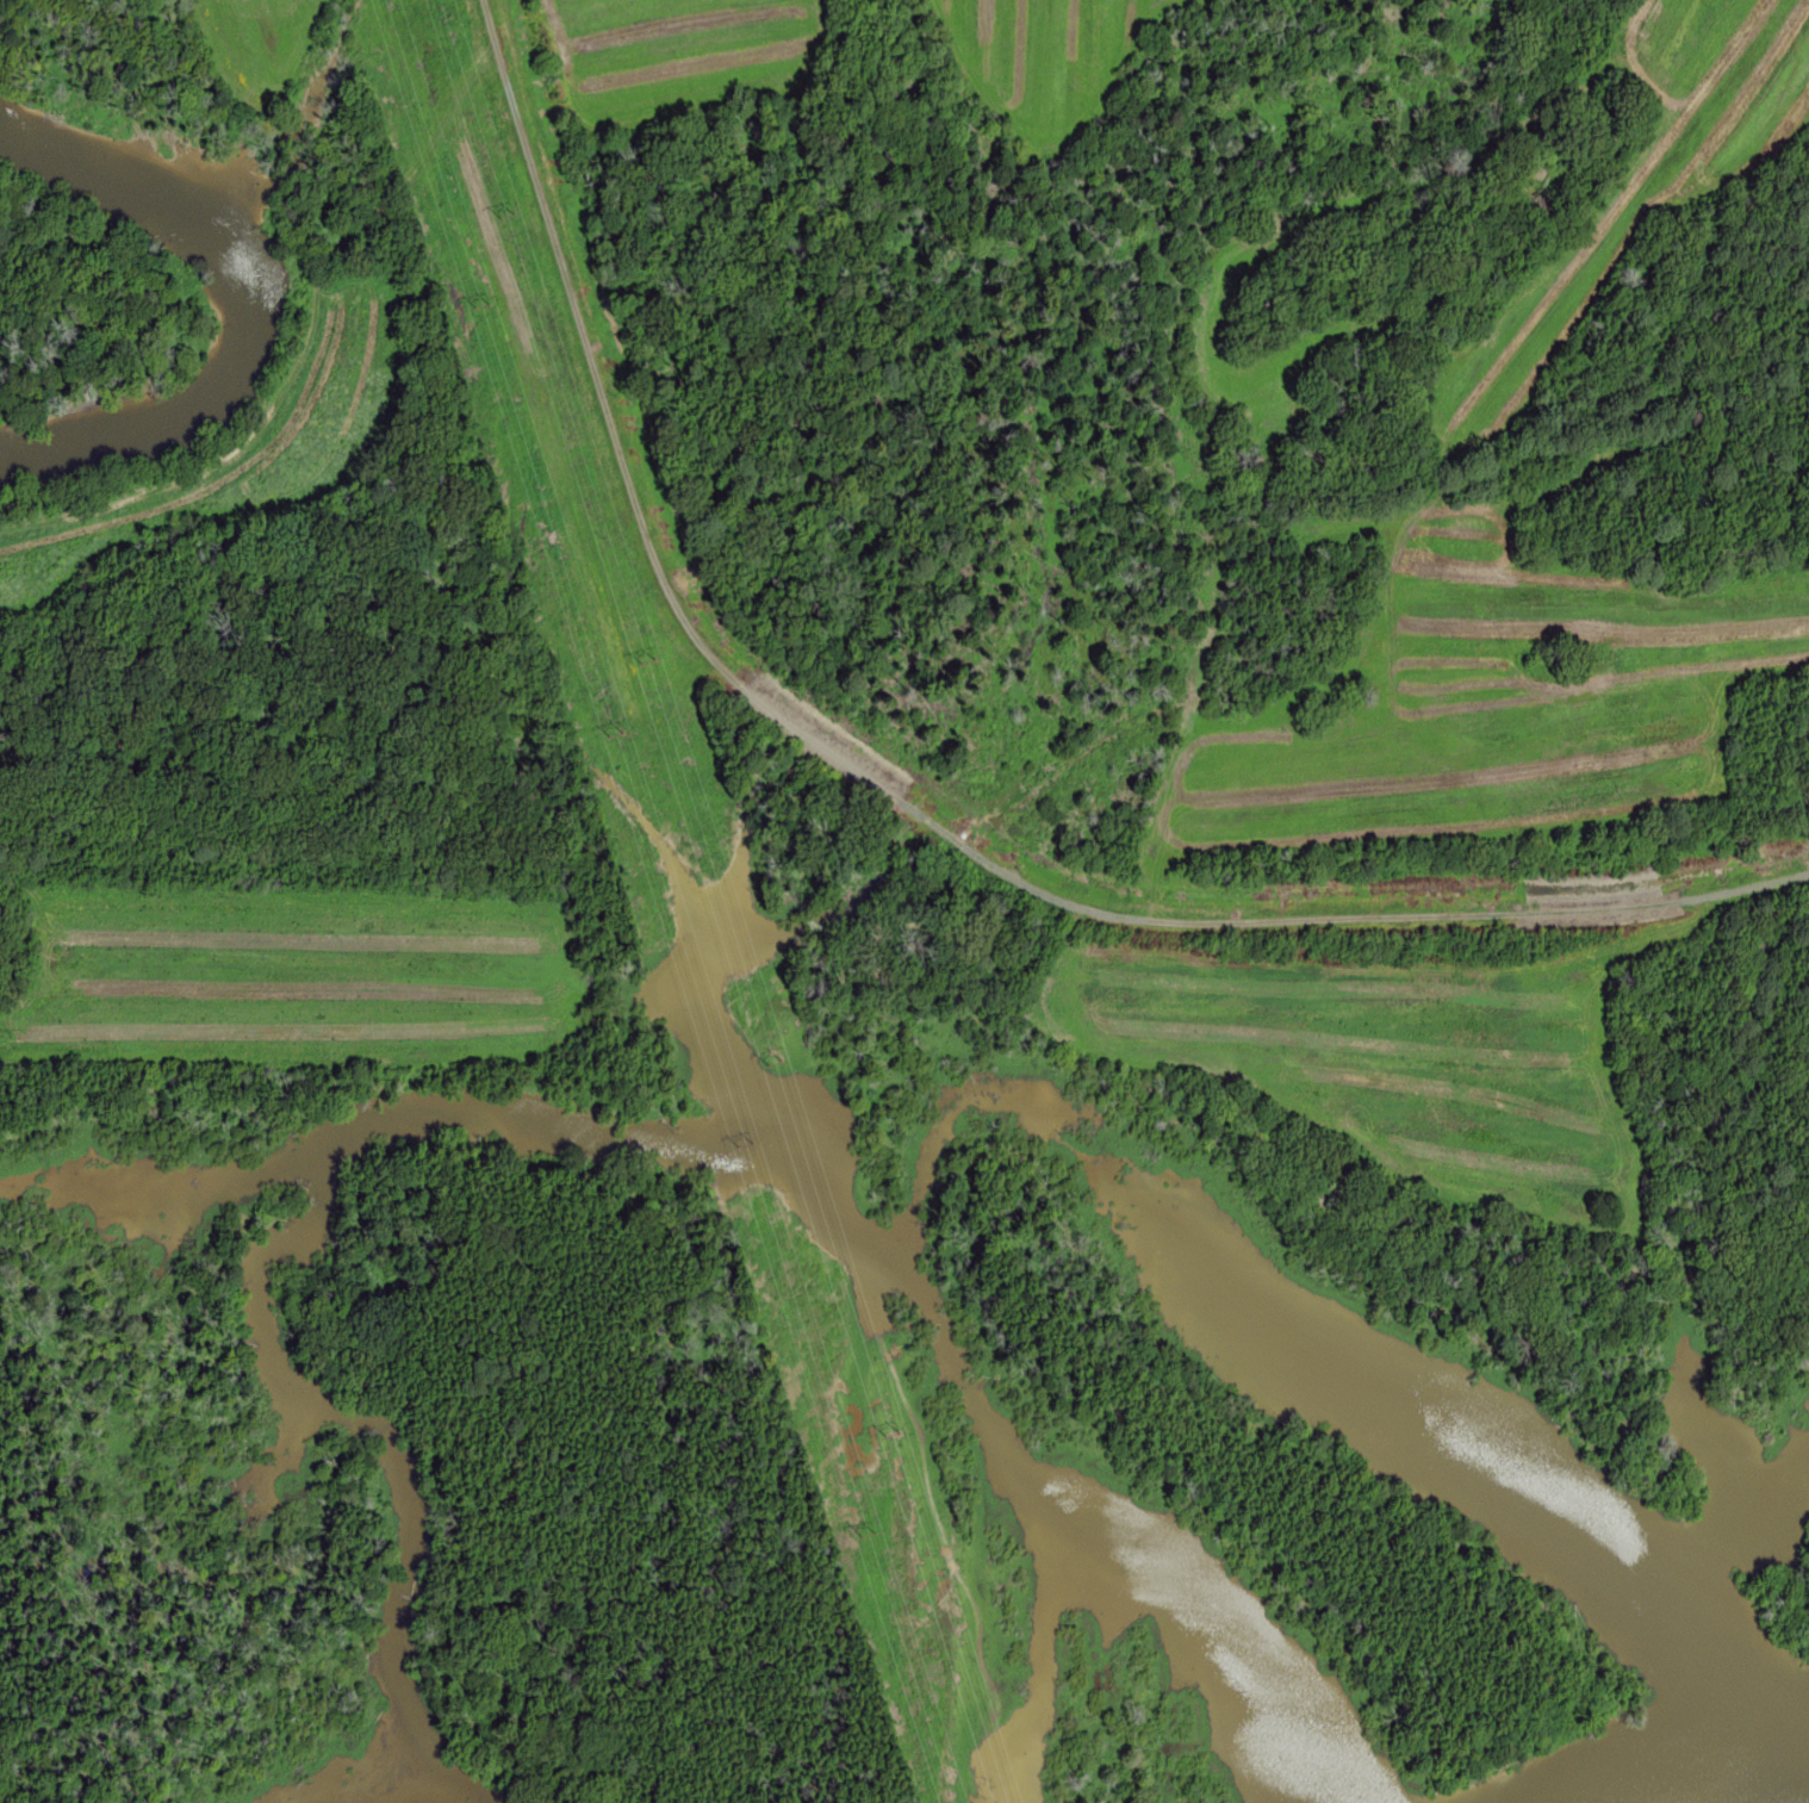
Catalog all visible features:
crop: (275, 42)
power tower: (498, 201)
river: (254, 311)
power tower: (493, 311)
power tower: (638, 644)
power tower: (622, 748)
road: (904, 801)
power tower: (776, 1064)
power tower: (751, 1159)
power tower: (897, 1442)
power tower: (863, 1528)

